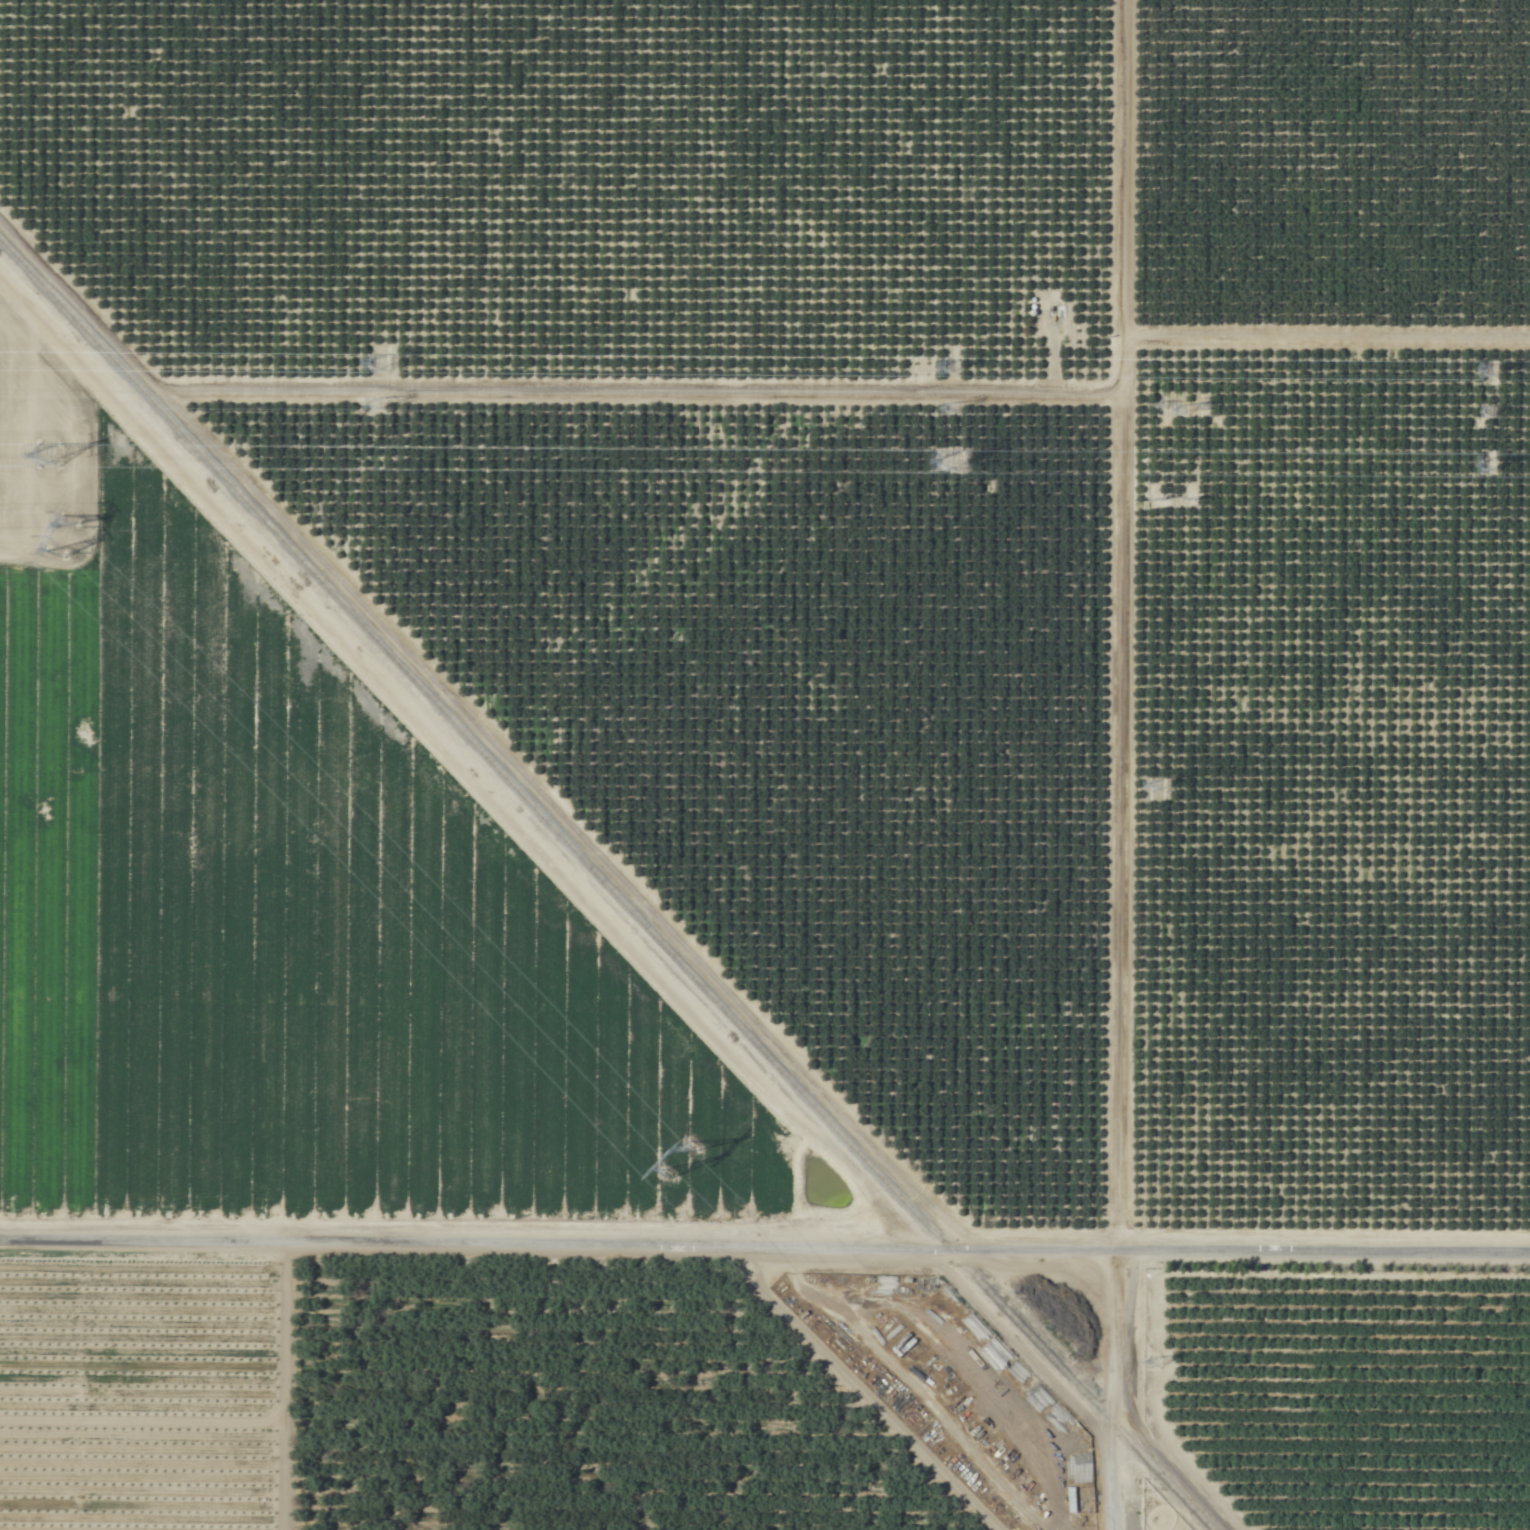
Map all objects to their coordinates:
road: (1124, 68)
road: (84, 302)
road: (1327, 338)
power tower: (377, 369)
power tower: (947, 370)
power tower: (1489, 370)
road: (644, 391)
power tower: (380, 411)
power tower: (950, 412)
power tower: (1492, 412)
power tower: (51, 460)
power tower: (958, 464)
power tower: (1498, 469)
power tower: (62, 539)
crop: (765, 765)
road: (571, 820)
road: (1116, 832)
railway: (606, 885)
power tower: (684, 1161)
road: (764, 1247)
road: (304, 1387)

